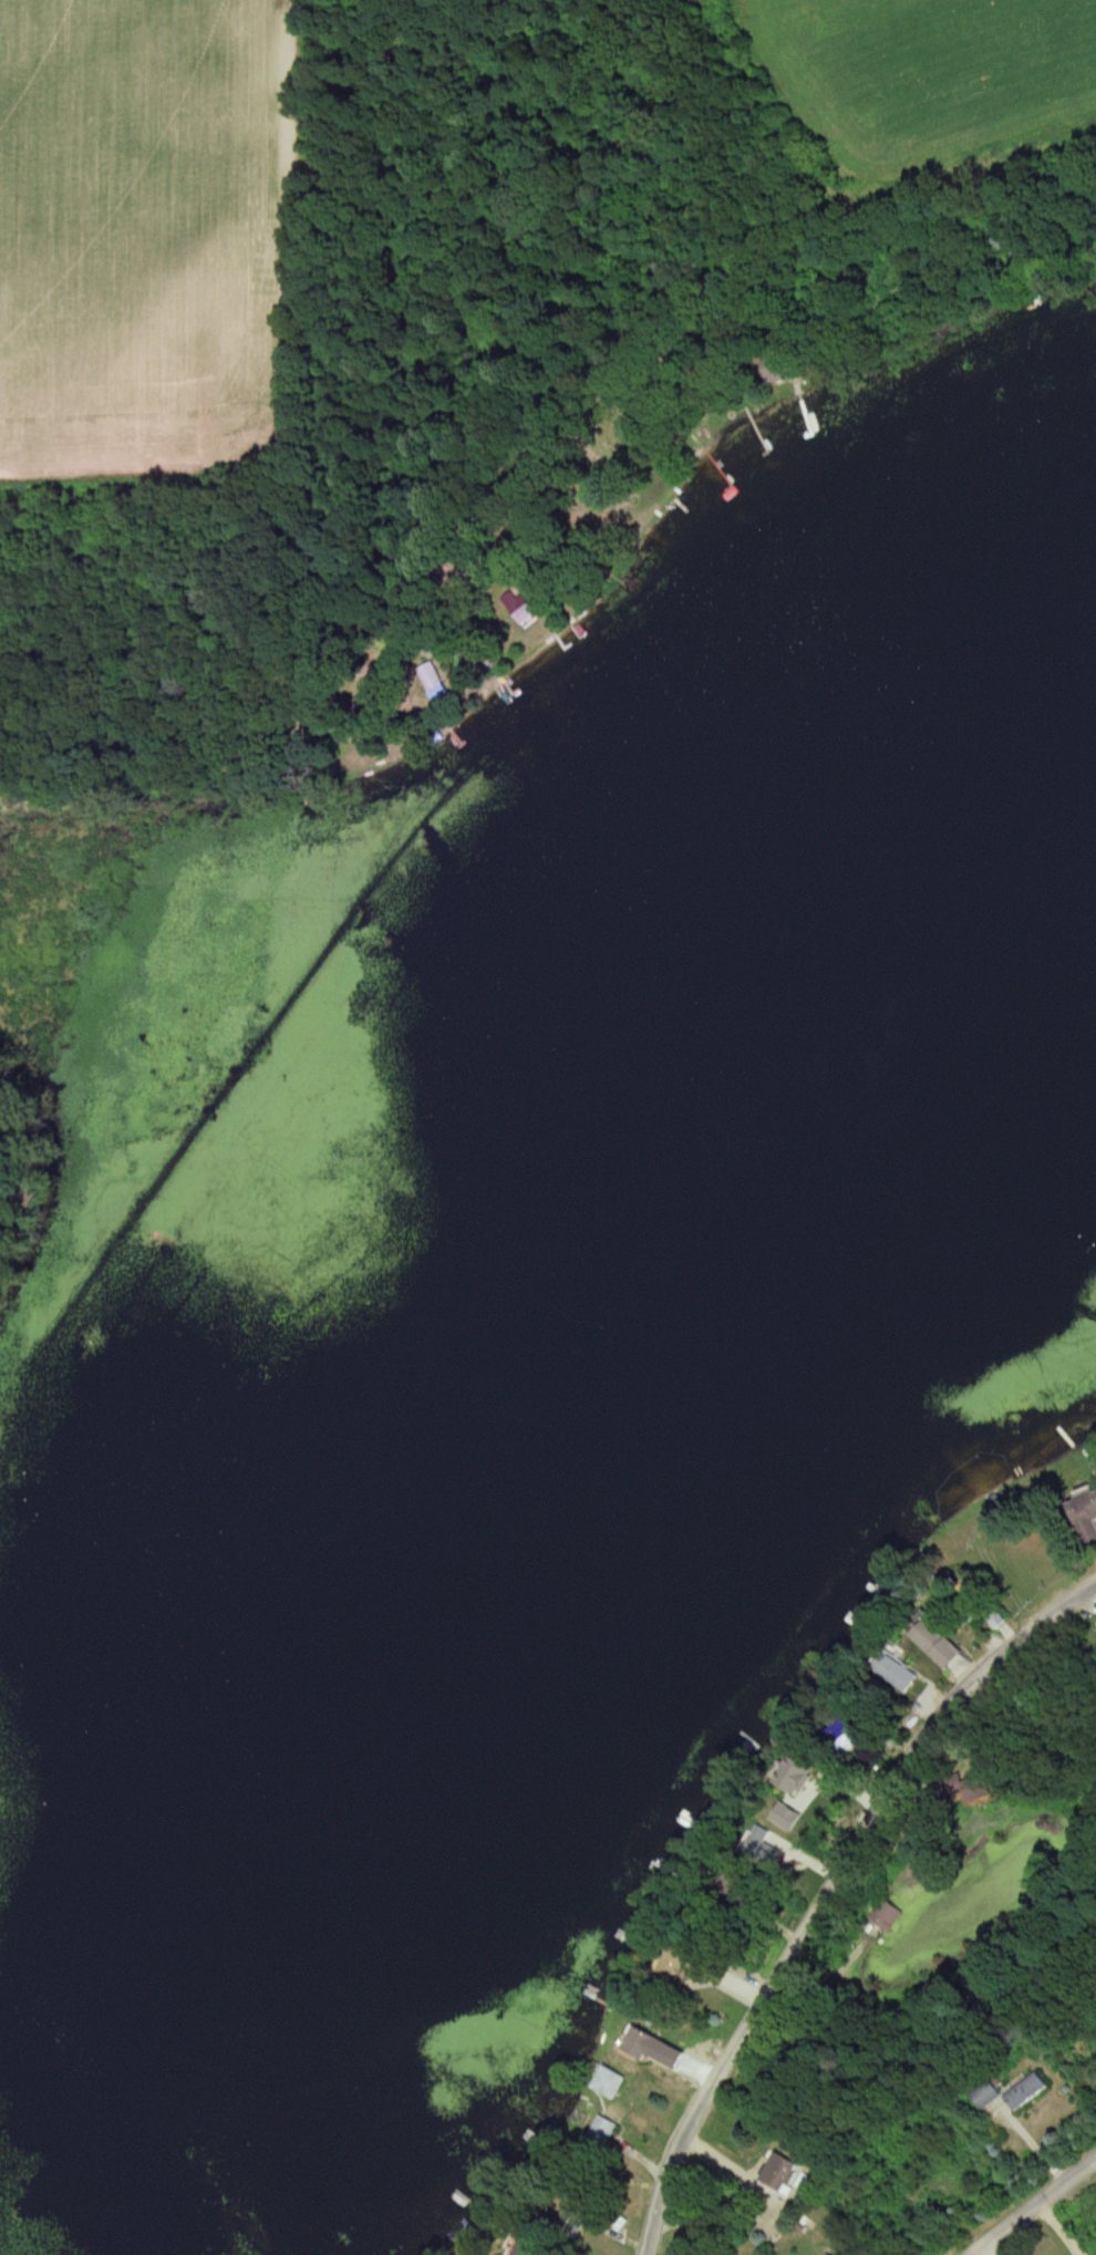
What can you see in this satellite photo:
road: (695, 271)
building: (526, 617)
building: (1085, 1517)
building: (973, 1607)
building: (993, 1620)
building: (938, 1644)
building: (899, 1676)
building: (851, 1731)
building: (762, 1851)
building: (737, 1887)
road: (831, 1894)
building: (888, 1914)
building: (687, 1963)
building: (642, 2044)
building: (612, 2082)
building: (1026, 2091)
building: (986, 2093)
building: (602, 2131)
building: (782, 2175)
road: (1035, 2211)
building: (579, 2215)
building: (531, 2246)
building: (827, 2254)

